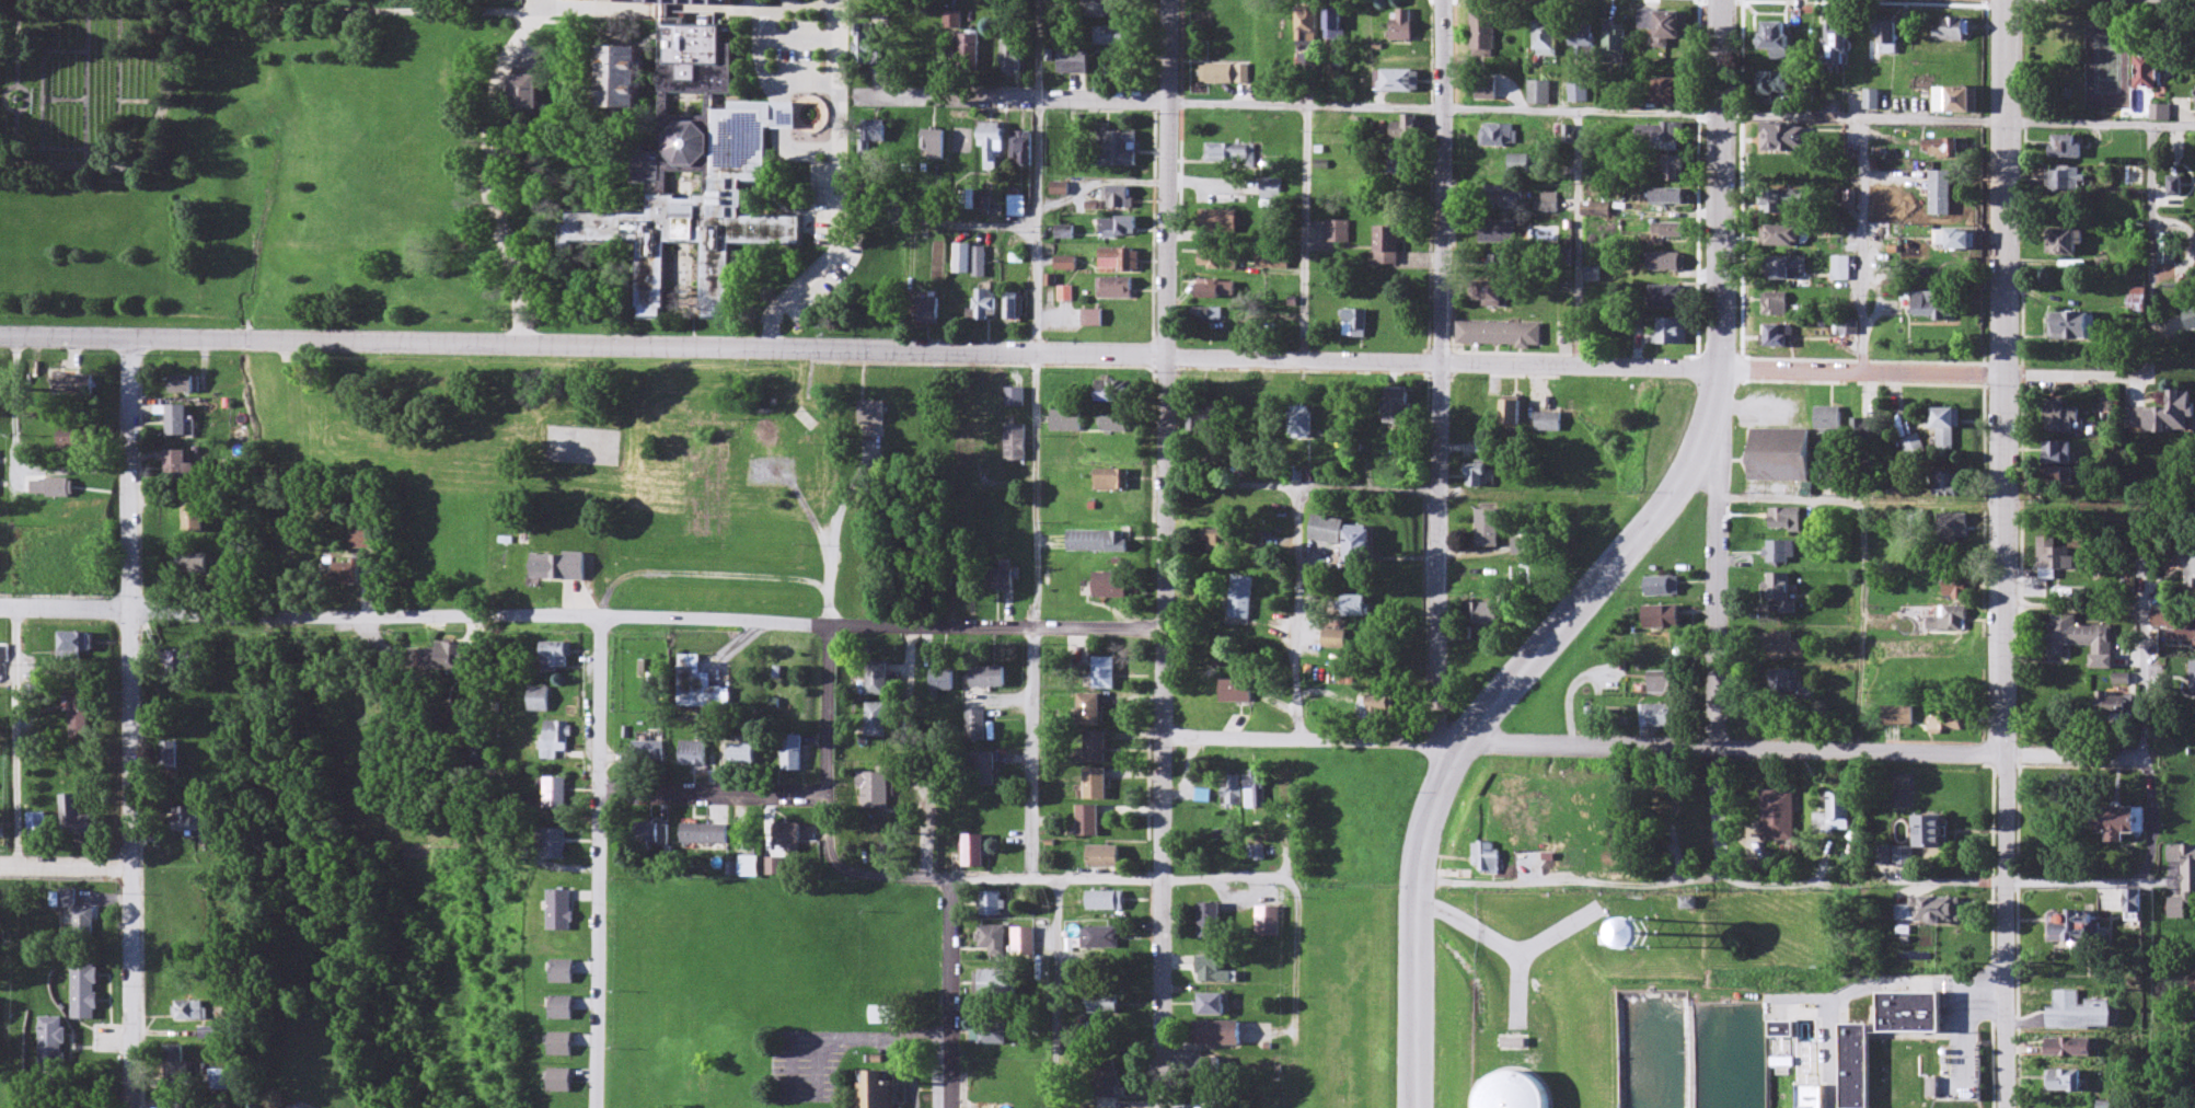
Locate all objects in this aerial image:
road: (778, 4)
road: (79, 8)
road: (348, 11)
building: (1955, 32)
building: (1779, 36)
road: (804, 41)
building: (1887, 42)
road: (766, 45)
building: (1840, 47)
building: (2148, 72)
building: (1776, 83)
park: (78, 86)
building: (1875, 101)
building: (1960, 101)
road: (1003, 102)
building: (2161, 113)
road: (1652, 117)
building: (1789, 139)
building: (2067, 148)
building: (1944, 149)
road: (150, 160)
road: (1578, 172)
road: (493, 177)
building: (694, 181)
building: (2065, 181)
road: (2003, 186)
road: (837, 187)
building: (1944, 194)
building: (1787, 203)
building: (1884, 232)
building: (1789, 236)
building: (1965, 241)
building: (2067, 243)
building: (2169, 249)
building: (1790, 269)
building: (1844, 269)
building: (1777, 305)
building: (1939, 307)
building: (2191, 320)
building: (2075, 326)
building: (1780, 337)
road: (1002, 355)
road: (2077, 373)
road: (1441, 399)
road: (1709, 415)
building: (2165, 417)
building: (1829, 420)
building: (2068, 422)
building: (1949, 428)
building: (1862, 434)
park: (585, 446)
building: (1915, 447)
building: (2063, 453)
building: (1781, 457)
building: (1868, 461)
road: (15, 463)
park: (575, 469)
building: (2063, 476)
building: (1949, 485)
building: (1787, 520)
building: (1954, 531)
road: (1164, 553)
building: (2057, 556)
building: (2192, 567)
building: (2151, 569)
building: (1957, 589)
road: (300, 614)
building: (1953, 621)
road: (715, 624)
road: (995, 627)
building: (2176, 627)
building: (2079, 637)
road: (1719, 639)
road: (2147, 677)
road: (906, 683)
building: (2114, 707)
road: (825, 713)
building: (1901, 717)
building: (1941, 722)
road: (135, 724)
road: (2003, 740)
road: (1653, 749)
road: (711, 797)
building: (2123, 824)
building: (1934, 834)
building: (1887, 857)
building: (1907, 857)
road: (598, 864)
road: (68, 869)
road: (962, 880)
building: (2191, 882)
building: (2136, 903)
building: (1932, 912)
road: (1419, 923)
building: (2076, 930)
building: (2194, 992)
road: (1054, 993)
road: (949, 994)
building: (2080, 1015)
building: (2073, 1050)
building: (1514, 1080)
storage tank: (1514, 1080)
building: (2066, 1084)

